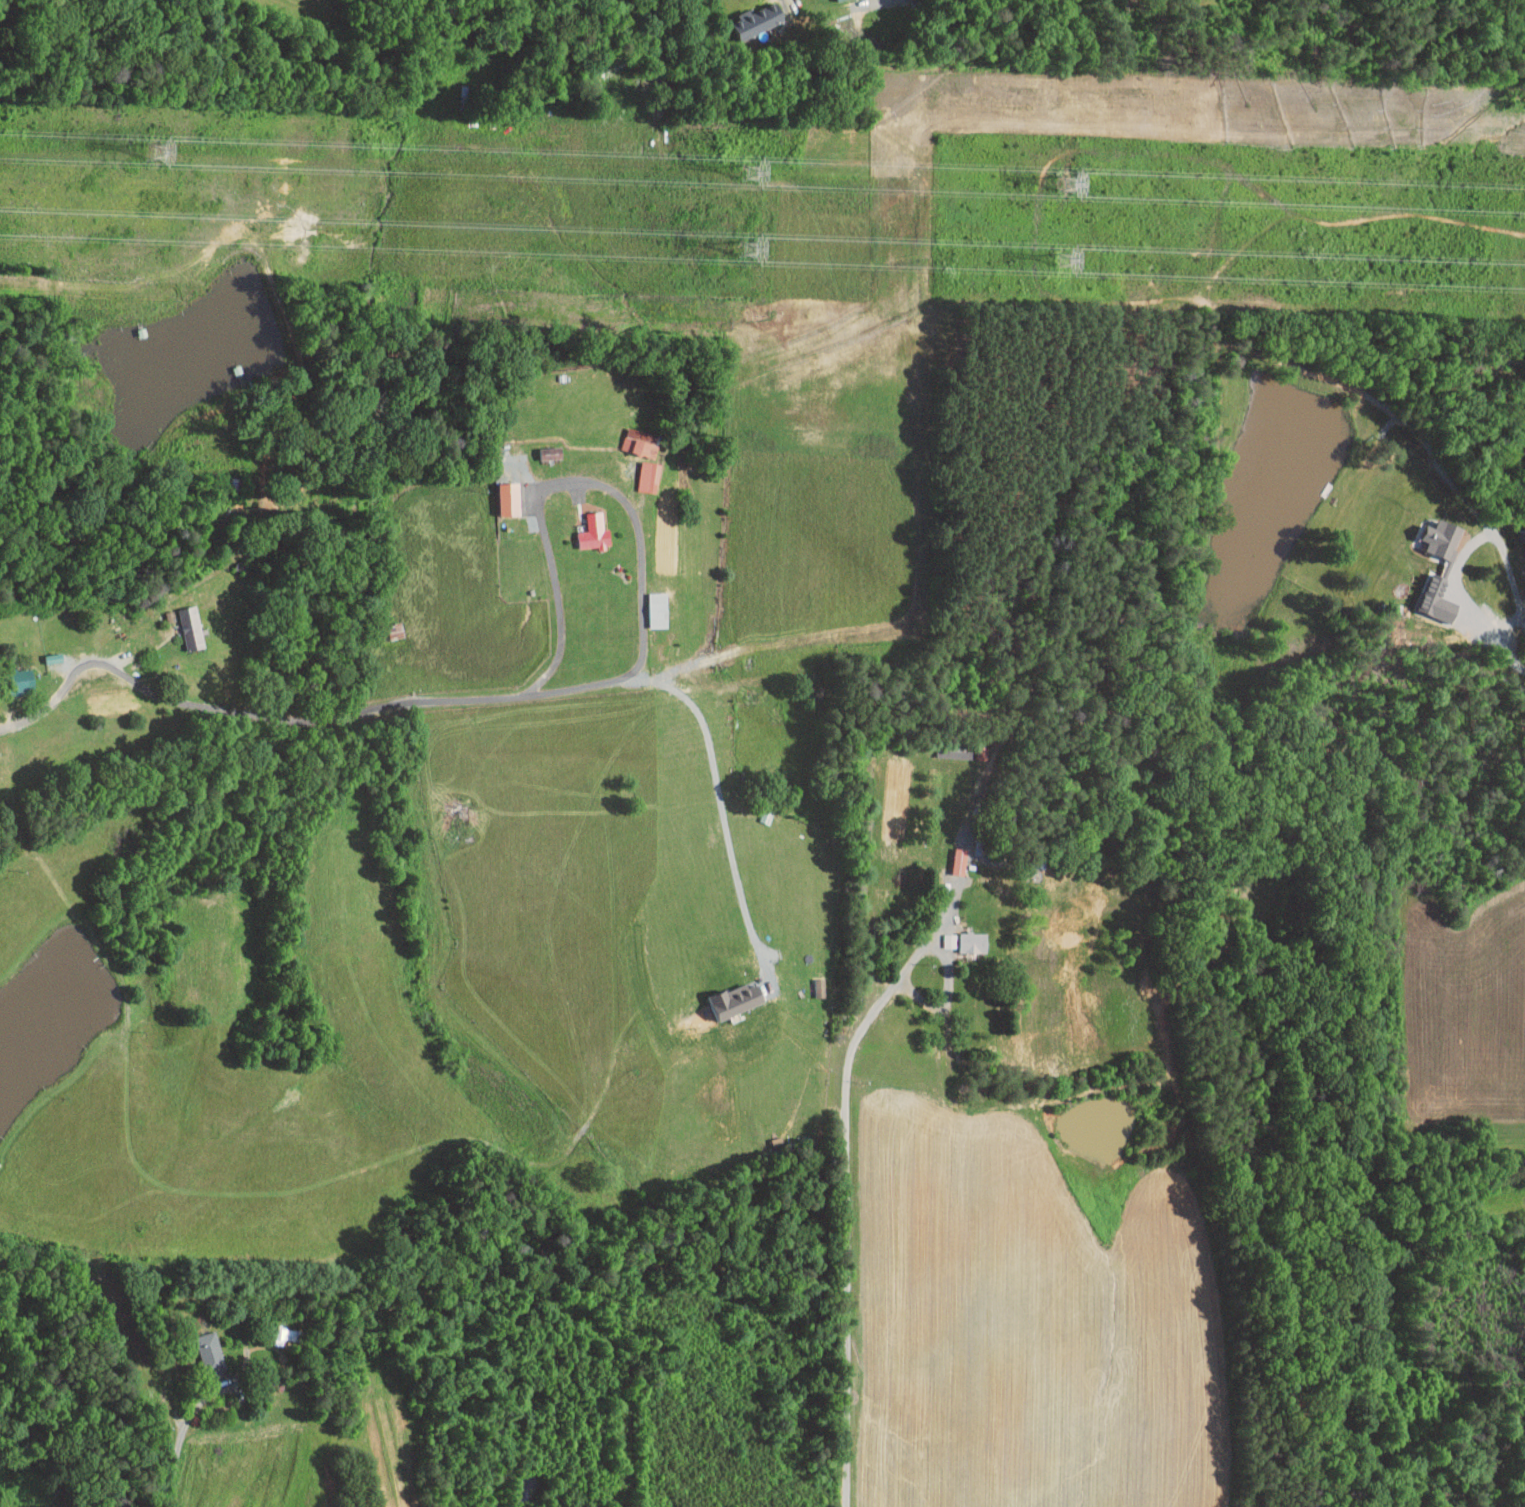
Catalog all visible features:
road: (786, 1)
road: (888, 1)
building: (746, 15)
building: (771, 21)
power tower: (158, 153)
power tower: (752, 172)
power tower: (1070, 184)
power tower: (747, 247)
power tower: (1065, 260)
building: (629, 437)
building: (541, 447)
building: (639, 471)
building: (500, 493)
road: (1457, 494)
building: (586, 527)
building: (1444, 538)
road: (1506, 568)
road: (642, 572)
building: (649, 604)
road: (912, 613)
building: (181, 622)
building: (16, 674)
road: (174, 698)
road: (720, 826)
building: (951, 854)
road: (935, 934)
building: (938, 934)
building: (963, 935)
building: (723, 994)
road: (949, 994)
road: (847, 1234)
building: (277, 1329)
building: (200, 1344)
road: (180, 1438)

